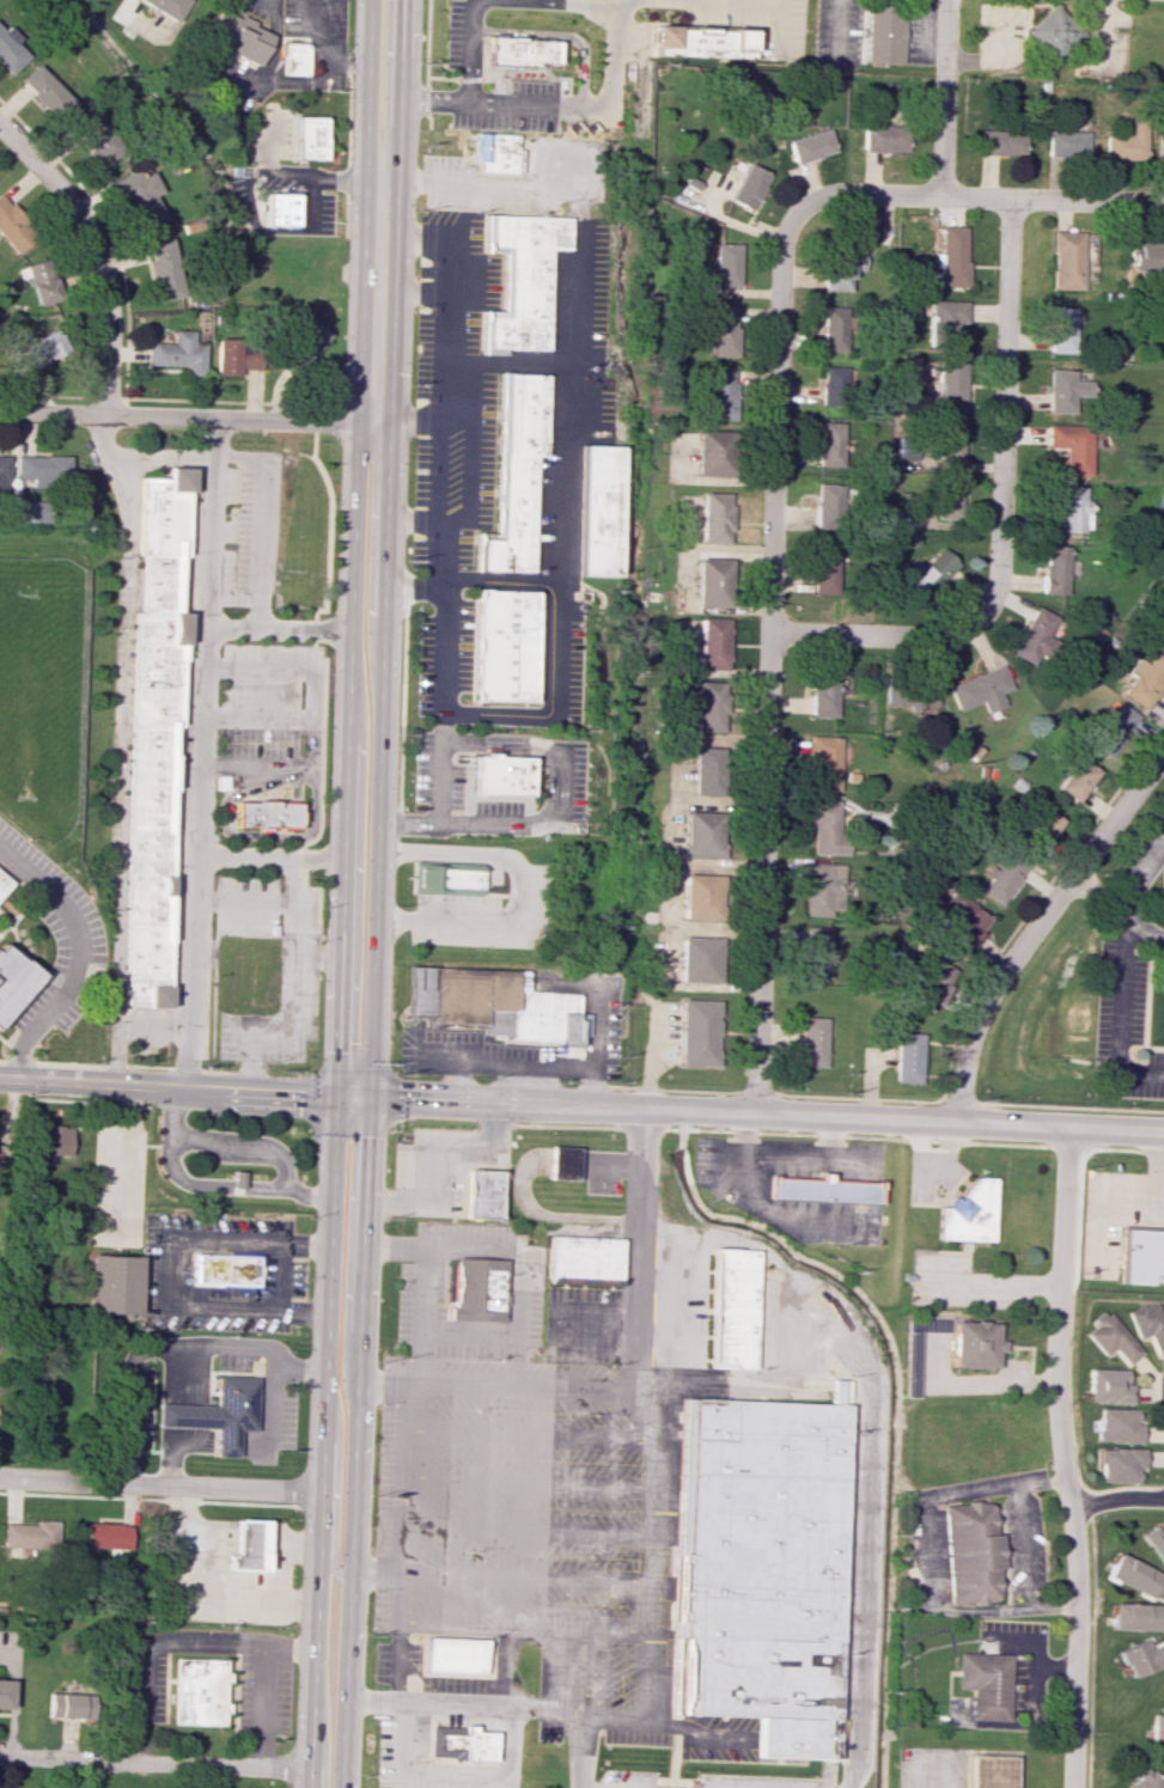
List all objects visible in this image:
building: (170, 8)
road: (621, 8)
road: (784, 24)
road: (836, 31)
building: (883, 33)
road: (560, 35)
building: (1049, 35)
road: (1105, 35)
building: (234, 36)
road: (427, 39)
building: (699, 41)
road: (921, 42)
road: (610, 43)
building: (10, 50)
road: (470, 50)
building: (516, 51)
building: (293, 59)
road: (342, 62)
road: (1005, 62)
road: (397, 74)
road: (368, 75)
road: (438, 79)
road: (292, 81)
road: (239, 84)
building: (44, 92)
road: (944, 96)
road: (502, 104)
building: (96, 138)
building: (307, 138)
building: (882, 138)
road: (269, 140)
building: (1000, 141)
building: (1065, 144)
building: (810, 146)
building: (1123, 146)
building: (1159, 148)
building: (493, 153)
road: (346, 155)
road: (251, 173)
road: (495, 183)
building: (748, 187)
road: (307, 194)
building: (140, 199)
road: (1052, 199)
building: (279, 208)
building: (13, 227)
road: (108, 231)
road: (412, 236)
road: (97, 254)
building: (952, 256)
building: (1146, 256)
building: (1066, 260)
building: (726, 264)
building: (163, 269)
building: (839, 271)
building: (42, 281)
building: (518, 281)
road: (378, 282)
road: (410, 297)
building: (944, 322)
building: (1060, 329)
building: (723, 330)
building: (833, 330)
building: (306, 340)
building: (39, 349)
building: (177, 353)
building: (234, 358)
road: (519, 360)
building: (836, 382)
building: (950, 382)
building: (1066, 391)
building: (721, 393)
road: (47, 397)
road: (108, 398)
road: (230, 402)
road: (185, 416)
road: (315, 419)
road: (407, 422)
building: (949, 439)
building: (830, 444)
building: (1072, 446)
road: (110, 452)
road: (269, 452)
building: (713, 453)
road: (492, 464)
building: (42, 468)
building: (510, 476)
building: (2, 477)
building: (947, 498)
building: (829, 506)
building: (1072, 507)
building: (598, 511)
building: (39, 512)
road: (440, 512)
building: (714, 517)
road: (999, 518)
road: (553, 524)
road: (425, 529)
road: (471, 553)
road: (262, 565)
building: (1055, 569)
building: (824, 570)
building: (928, 576)
road: (470, 580)
road: (500, 580)
building: (712, 581)
road: (769, 584)
road: (415, 586)
road: (449, 602)
road: (418, 603)
road: (312, 615)
road: (234, 628)
road: (188, 631)
building: (1035, 635)
building: (1163, 636)
building: (713, 643)
building: (496, 646)
road: (465, 673)
park: (36, 678)
building: (1145, 681)
building: (981, 689)
building: (824, 690)
building: (912, 698)
road: (124, 701)
road: (403, 706)
building: (709, 706)
road: (258, 718)
road: (311, 725)
building: (1113, 730)
building: (154, 734)
road: (176, 740)
road: (202, 752)
road: (529, 758)
building: (825, 761)
building: (706, 769)
building: (493, 777)
road: (463, 779)
building: (1077, 779)
road: (440, 783)
road: (528, 788)
road: (312, 792)
road: (489, 799)
building: (262, 812)
road: (318, 812)
building: (1041, 825)
building: (825, 828)
building: (702, 834)
road: (242, 835)
road: (315, 837)
road: (197, 844)
road: (218, 854)
road: (206, 858)
parking lot: (1142, 858)
road: (269, 859)
building: (1002, 878)
building: (445, 880)
building: (4, 886)
building: (822, 889)
road: (518, 891)
building: (697, 897)
road: (240, 905)
road: (1116, 910)
road: (18, 915)
road: (5, 920)
building: (964, 921)
road: (1034, 926)
road: (5, 927)
parking lot: (55, 936)
road: (1142, 946)
road: (77, 947)
road: (1120, 948)
building: (816, 952)
building: (699, 959)
road: (985, 970)
building: (12, 980)
building: (934, 983)
building: (1163, 988)
road: (295, 995)
road: (1145, 1000)
road: (211, 1001)
building: (489, 1005)
parking lot: (1125, 1024)
road: (127, 1031)
building: (697, 1032)
road: (6, 1042)
building: (810, 1042)
road: (1136, 1046)
road: (10, 1054)
road: (1142, 1054)
building: (906, 1057)
road: (118, 1066)
road: (1140, 1070)
road: (672, 1090)
road: (757, 1091)
traffic signals: (334, 1096)
traffic signals: (368, 1097)
road: (957, 1102)
road: (333, 1103)
road: (367, 1103)
road: (581, 1105)
road: (1072, 1107)
road: (565, 1125)
road: (640, 1129)
road: (857, 1136)
road: (828, 1137)
building: (53, 1141)
road: (240, 1149)
road: (427, 1149)
road: (1067, 1149)
road: (1123, 1149)
road: (945, 1151)
road: (793, 1155)
road: (920, 1157)
road: (126, 1159)
building: (561, 1164)
building: (238, 1179)
road: (203, 1188)
building: (821, 1191)
building: (480, 1194)
road: (1127, 1196)
road: (1162, 1202)
road: (764, 1206)
building: (969, 1212)
road: (636, 1250)
building: (1142, 1256)
building: (584, 1261)
road: (474, 1262)
road: (173, 1270)
building: (225, 1270)
road: (997, 1283)
building: (112, 1284)
building: (474, 1289)
road: (555, 1308)
building: (726, 1308)
road: (514, 1312)
road: (446, 1317)
road: (443, 1318)
building: (1150, 1324)
building: (1113, 1337)
building: (975, 1343)
road: (166, 1344)
road: (581, 1360)
road: (379, 1384)
building: (1110, 1386)
road: (517, 1390)
building: (217, 1411)
road: (276, 1418)
building: (1120, 1426)
road: (528, 1434)
road: (869, 1436)
road: (170, 1438)
road: (225, 1440)
road: (1066, 1458)
building: (1121, 1464)
road: (158, 1479)
road: (528, 1482)
road: (653, 1497)
road: (1117, 1497)
road: (525, 1531)
building: (30, 1534)
building: (106, 1536)
building: (1157, 1538)
building: (248, 1545)
road: (1022, 1546)
building: (970, 1552)
road: (924, 1554)
road: (676, 1563)
building: (758, 1569)
road: (372, 1573)
building: (1136, 1576)
road: (524, 1579)
building: (1138, 1616)
road: (401, 1618)
road: (577, 1627)
road: (598, 1644)
road: (205, 1647)
road: (288, 1652)
building: (453, 1654)
building: (1141, 1656)
road: (1035, 1670)
building: (986, 1684)
building: (197, 1691)
building: (4, 1692)
road: (647, 1703)
building: (67, 1705)
road: (463, 1705)
road: (693, 1733)
building: (1158, 1735)
building: (459, 1743)
road: (581, 1750)
road: (154, 1760)
road: (671, 1760)
building: (992, 1771)
road: (452, 1777)
building: (1148, 1778)
road: (679, 1781)

